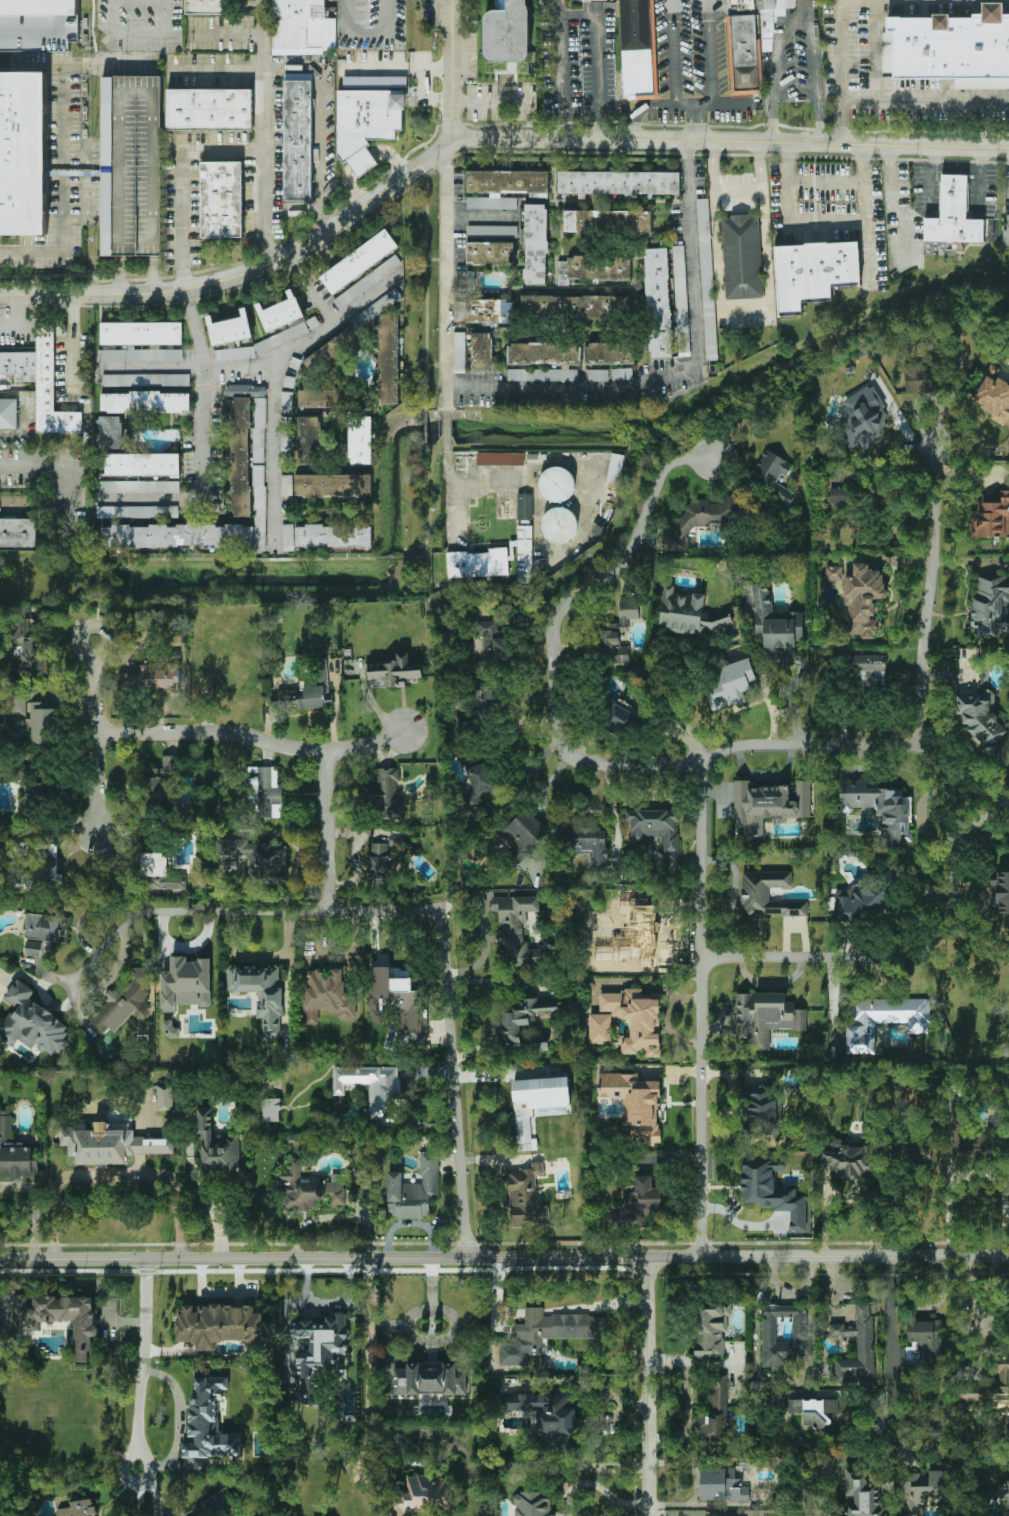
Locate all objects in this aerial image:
building: (596, 0)
building: (742, 4)
building: (205, 7)
building: (772, 11)
road: (361, 16)
building: (38, 24)
building: (297, 25)
road: (226, 32)
road: (364, 32)
road: (876, 32)
building: (511, 33)
road: (138, 34)
building: (950, 48)
building: (637, 49)
road: (673, 52)
road: (708, 53)
building: (743, 54)
road: (598, 58)
road: (774, 62)
road: (37, 65)
road: (109, 65)
road: (381, 67)
road: (319, 68)
road: (451, 70)
road: (558, 71)
road: (841, 74)
building: (374, 77)
road: (815, 83)
road: (444, 100)
road: (943, 100)
road: (859, 101)
road: (674, 105)
building: (210, 108)
road: (62, 109)
building: (364, 119)
road: (695, 125)
road: (262, 132)
road: (483, 140)
building: (299, 141)
building: (24, 151)
road: (87, 152)
road: (95, 152)
road: (377, 155)
road: (932, 158)
road: (979, 159)
road: (393, 160)
building: (362, 162)
road: (363, 163)
building: (131, 164)
parking lot: (131, 164)
road: (760, 167)
road: (955, 167)
road: (714, 168)
building: (508, 179)
building: (619, 180)
road: (827, 182)
road: (349, 186)
road: (738, 188)
road: (978, 189)
building: (222, 198)
road: (930, 199)
building: (491, 202)
road: (899, 209)
building: (955, 212)
road: (479, 216)
building: (607, 219)
road: (867, 219)
road: (183, 221)
road: (791, 221)
building: (491, 231)
building: (1006, 234)
building: (536, 242)
road: (48, 252)
building: (491, 252)
building: (741, 256)
building: (358, 259)
road: (435, 259)
building: (593, 267)
road: (152, 273)
building: (810, 273)
road: (120, 274)
road: (445, 279)
building: (706, 281)
building: (366, 282)
road: (425, 282)
road: (311, 286)
road: (369, 295)
building: (680, 300)
building: (382, 302)
building: (659, 302)
building: (574, 304)
road: (745, 308)
building: (490, 309)
building: (282, 310)
road: (15, 311)
building: (458, 311)
road: (71, 314)
building: (312, 322)
building: (231, 326)
road: (15, 328)
building: (141, 331)
building: (281, 337)
building: (481, 349)
building: (332, 350)
building: (458, 351)
building: (610, 351)
building: (545, 352)
building: (234, 353)
building: (142, 355)
building: (390, 358)
road: (435, 365)
road: (70, 367)
road: (151, 367)
road: (679, 370)
building: (622, 373)
building: (542, 374)
building: (597, 375)
building: (144, 379)
building: (918, 379)
building: (41, 380)
road: (4, 383)
building: (246, 390)
road: (12, 394)
building: (334, 396)
building: (994, 398)
building: (146, 400)
building: (8, 412)
road: (203, 416)
building: (863, 419)
road: (23, 426)
road: (424, 427)
road: (445, 428)
building: (258, 429)
building: (113, 431)
building: (309, 438)
building: (361, 439)
building: (285, 443)
road: (273, 454)
building: (532, 455)
building: (240, 457)
building: (500, 457)
building: (143, 463)
building: (615, 467)
road: (52, 468)
building: (772, 476)
road: (600, 479)
building: (558, 482)
storage tank: (558, 482)
building: (286, 484)
building: (334, 484)
building: (137, 486)
road: (450, 490)
building: (840, 496)
building: (259, 504)
building: (525, 505)
road: (425, 507)
building: (137, 510)
building: (991, 517)
building: (699, 519)
building: (524, 521)
flagpole: (480, 522)
building: (561, 523)
storage tank: (561, 523)
building: (598, 529)
building: (18, 533)
building: (335, 534)
building: (176, 535)
building: (288, 536)
building: (511, 548)
building: (524, 550)
road: (186, 558)
road: (391, 558)
building: (477, 562)
building: (0, 569)
building: (834, 573)
park: (46, 581)
road: (929, 594)
building: (863, 599)
road: (95, 600)
building: (990, 605)
building: (691, 613)
building: (16, 623)
building: (776, 624)
road: (684, 630)
building: (617, 633)
road: (549, 635)
building: (494, 643)
building: (32, 652)
building: (394, 669)
building: (868, 670)
building: (153, 672)
building: (731, 684)
building: (306, 689)
building: (482, 699)
building: (18, 703)
building: (624, 716)
building: (980, 719)
building: (40, 721)
road: (94, 736)
road: (251, 737)
building: (480, 785)
building: (161, 787)
building: (40, 788)
building: (264, 792)
building: (386, 792)
building: (768, 804)
building: (879, 807)
building: (655, 827)
road: (324, 833)
building: (524, 835)
building: (398, 839)
building: (589, 845)
road: (697, 853)
building: (258, 859)
building: (36, 865)
building: (160, 866)
building: (381, 866)
building: (896, 871)
building: (1001, 892)
building: (767, 896)
building: (861, 901)
road: (184, 910)
road: (383, 912)
building: (45, 926)
building: (517, 928)
road: (485, 931)
building: (647, 935)
building: (32, 948)
road: (903, 952)
road: (258, 956)
building: (186, 983)
building: (261, 994)
building: (328, 994)
building: (123, 1002)
building: (398, 1003)
building: (765, 1017)
building: (884, 1019)
building: (524, 1020)
building: (31, 1021)
building: (644, 1022)
road: (452, 1086)
building: (376, 1090)
building: (165, 1096)
building: (635, 1102)
building: (538, 1105)
building: (271, 1109)
building: (761, 1111)
building: (110, 1144)
building: (217, 1147)
building: (15, 1152)
building: (849, 1158)
road: (974, 1171)
road: (115, 1175)
building: (310, 1187)
building: (414, 1189)
building: (773, 1191)
building: (526, 1197)
building: (640, 1202)
road: (35, 1207)
road: (217, 1215)
road: (504, 1258)
road: (327, 1303)
road: (547, 1312)
building: (59, 1317)
building: (219, 1324)
building: (711, 1329)
road: (411, 1333)
building: (547, 1333)
building: (785, 1334)
building: (925, 1341)
road: (892, 1343)
building: (857, 1345)
building: (318, 1352)
building: (430, 1379)
building: (1001, 1379)
road: (648, 1386)
building: (972, 1393)
road: (140, 1406)
building: (546, 1410)
building: (815, 1410)
building: (715, 1412)
road: (180, 1415)
building: (208, 1426)
road: (557, 1467)
road: (581, 1483)
road: (697, 1483)
building: (722, 1485)
building: (925, 1485)
building: (1005, 1492)
building: (862, 1494)
building: (424, 1496)
road: (632, 1503)
building: (532, 1504)
building: (80, 1508)
road: (610, 1509)
road: (674, 1512)
building: (906, 1514)
building: (330, 1515)

